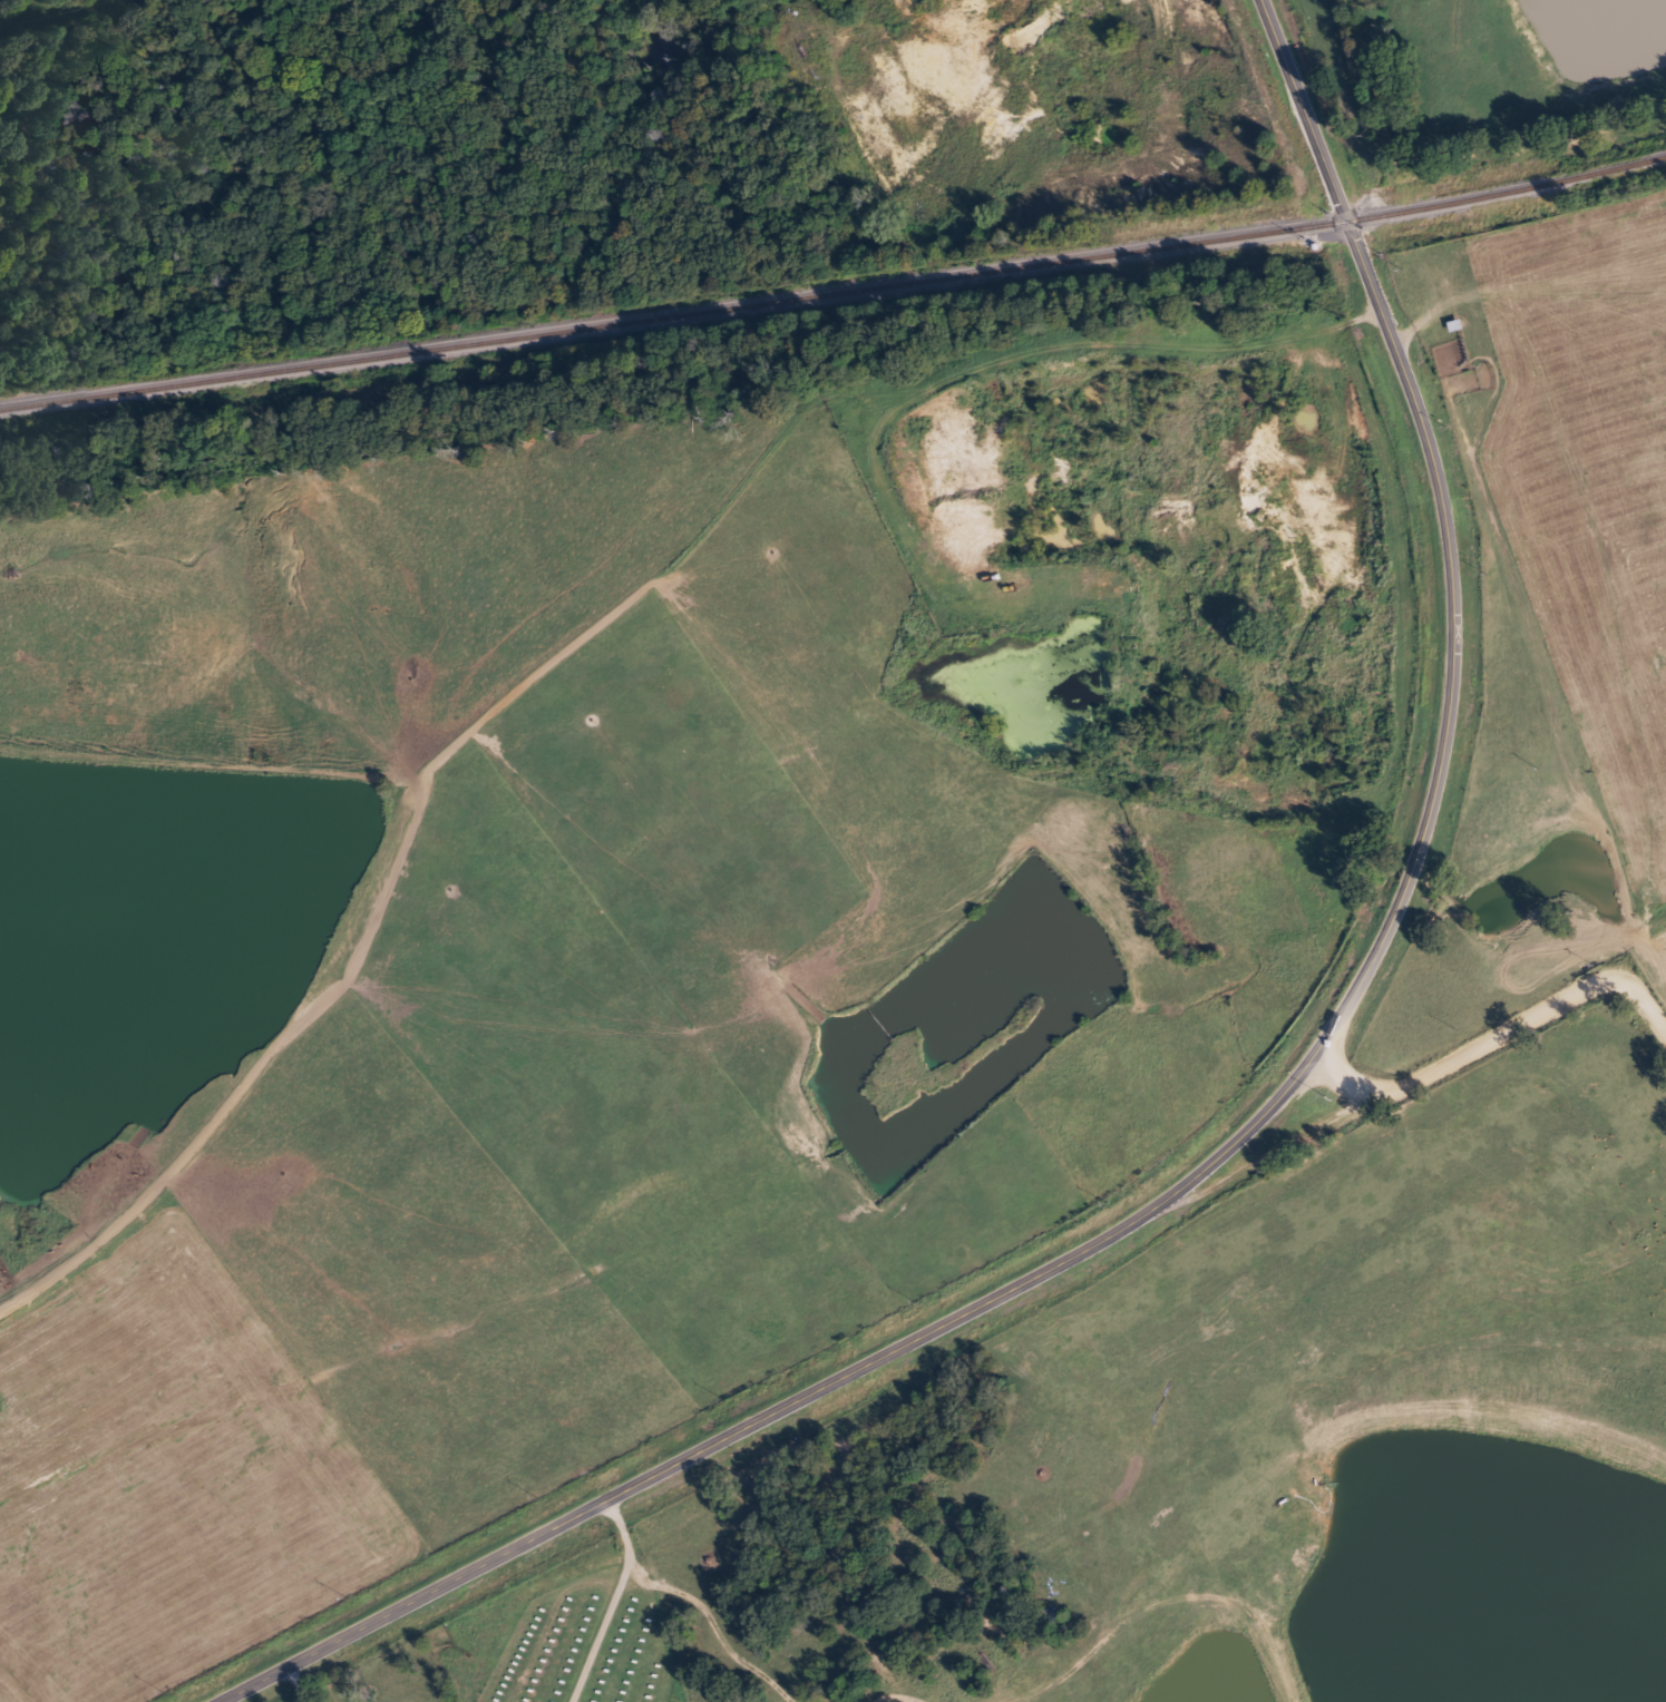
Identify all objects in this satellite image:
road: (905, 13)
railway: (835, 294)
road: (1132, 354)
road: (608, 560)
road: (1421, 1069)
road: (1356, 1073)
road: (1270, 1119)
road: (623, 1574)

